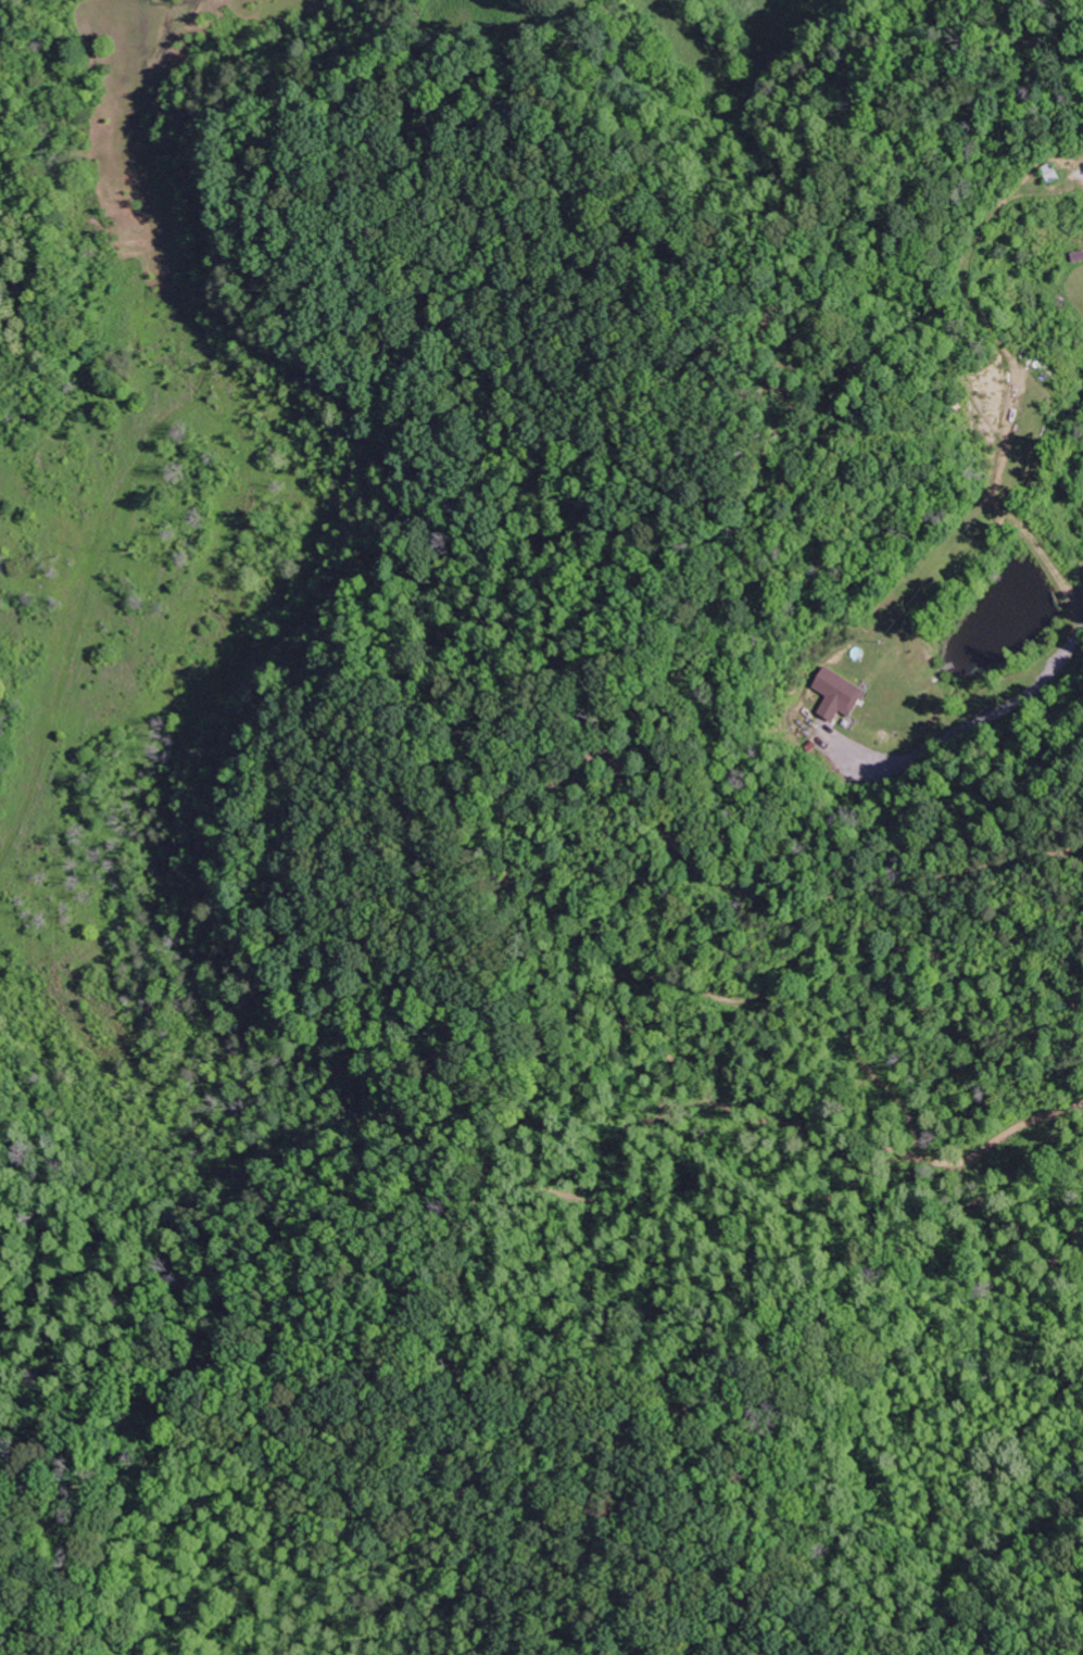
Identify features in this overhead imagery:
building: (1054, 172)
road: (1055, 538)
building: (839, 694)

